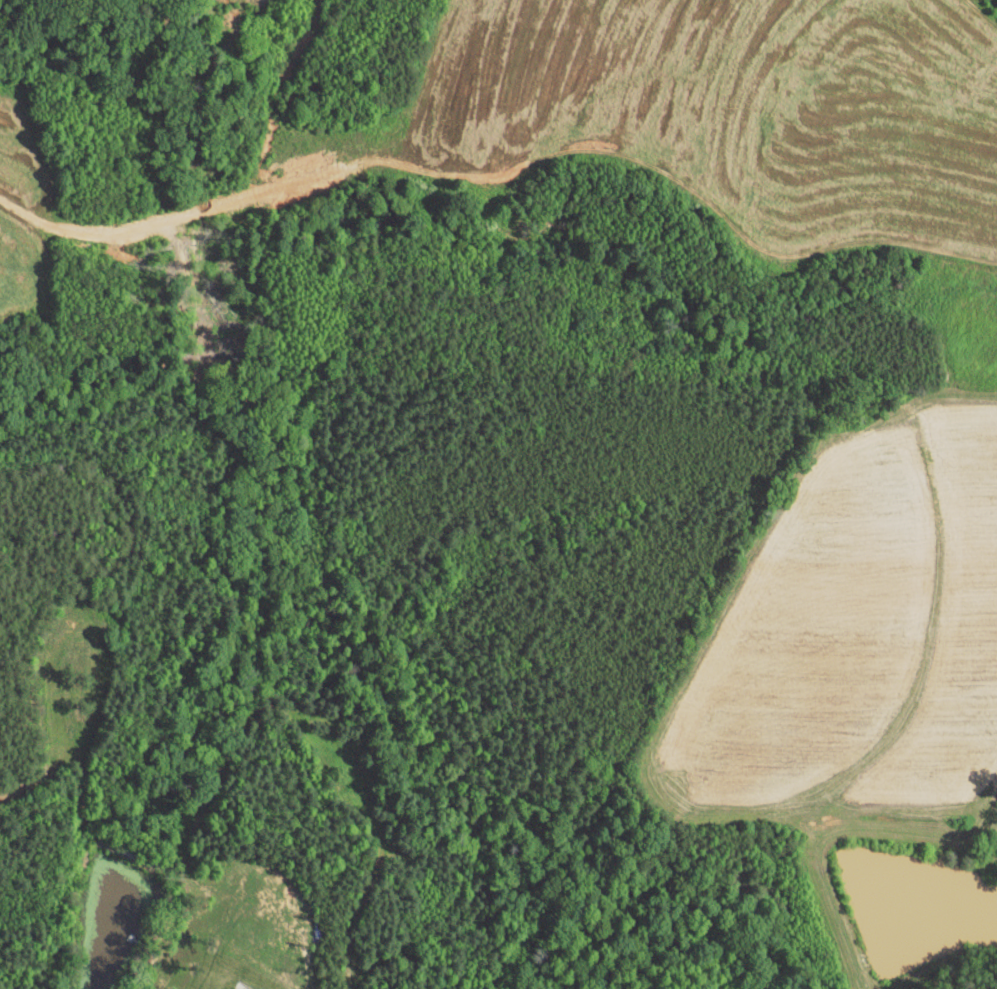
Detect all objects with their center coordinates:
building: (244, 986)

